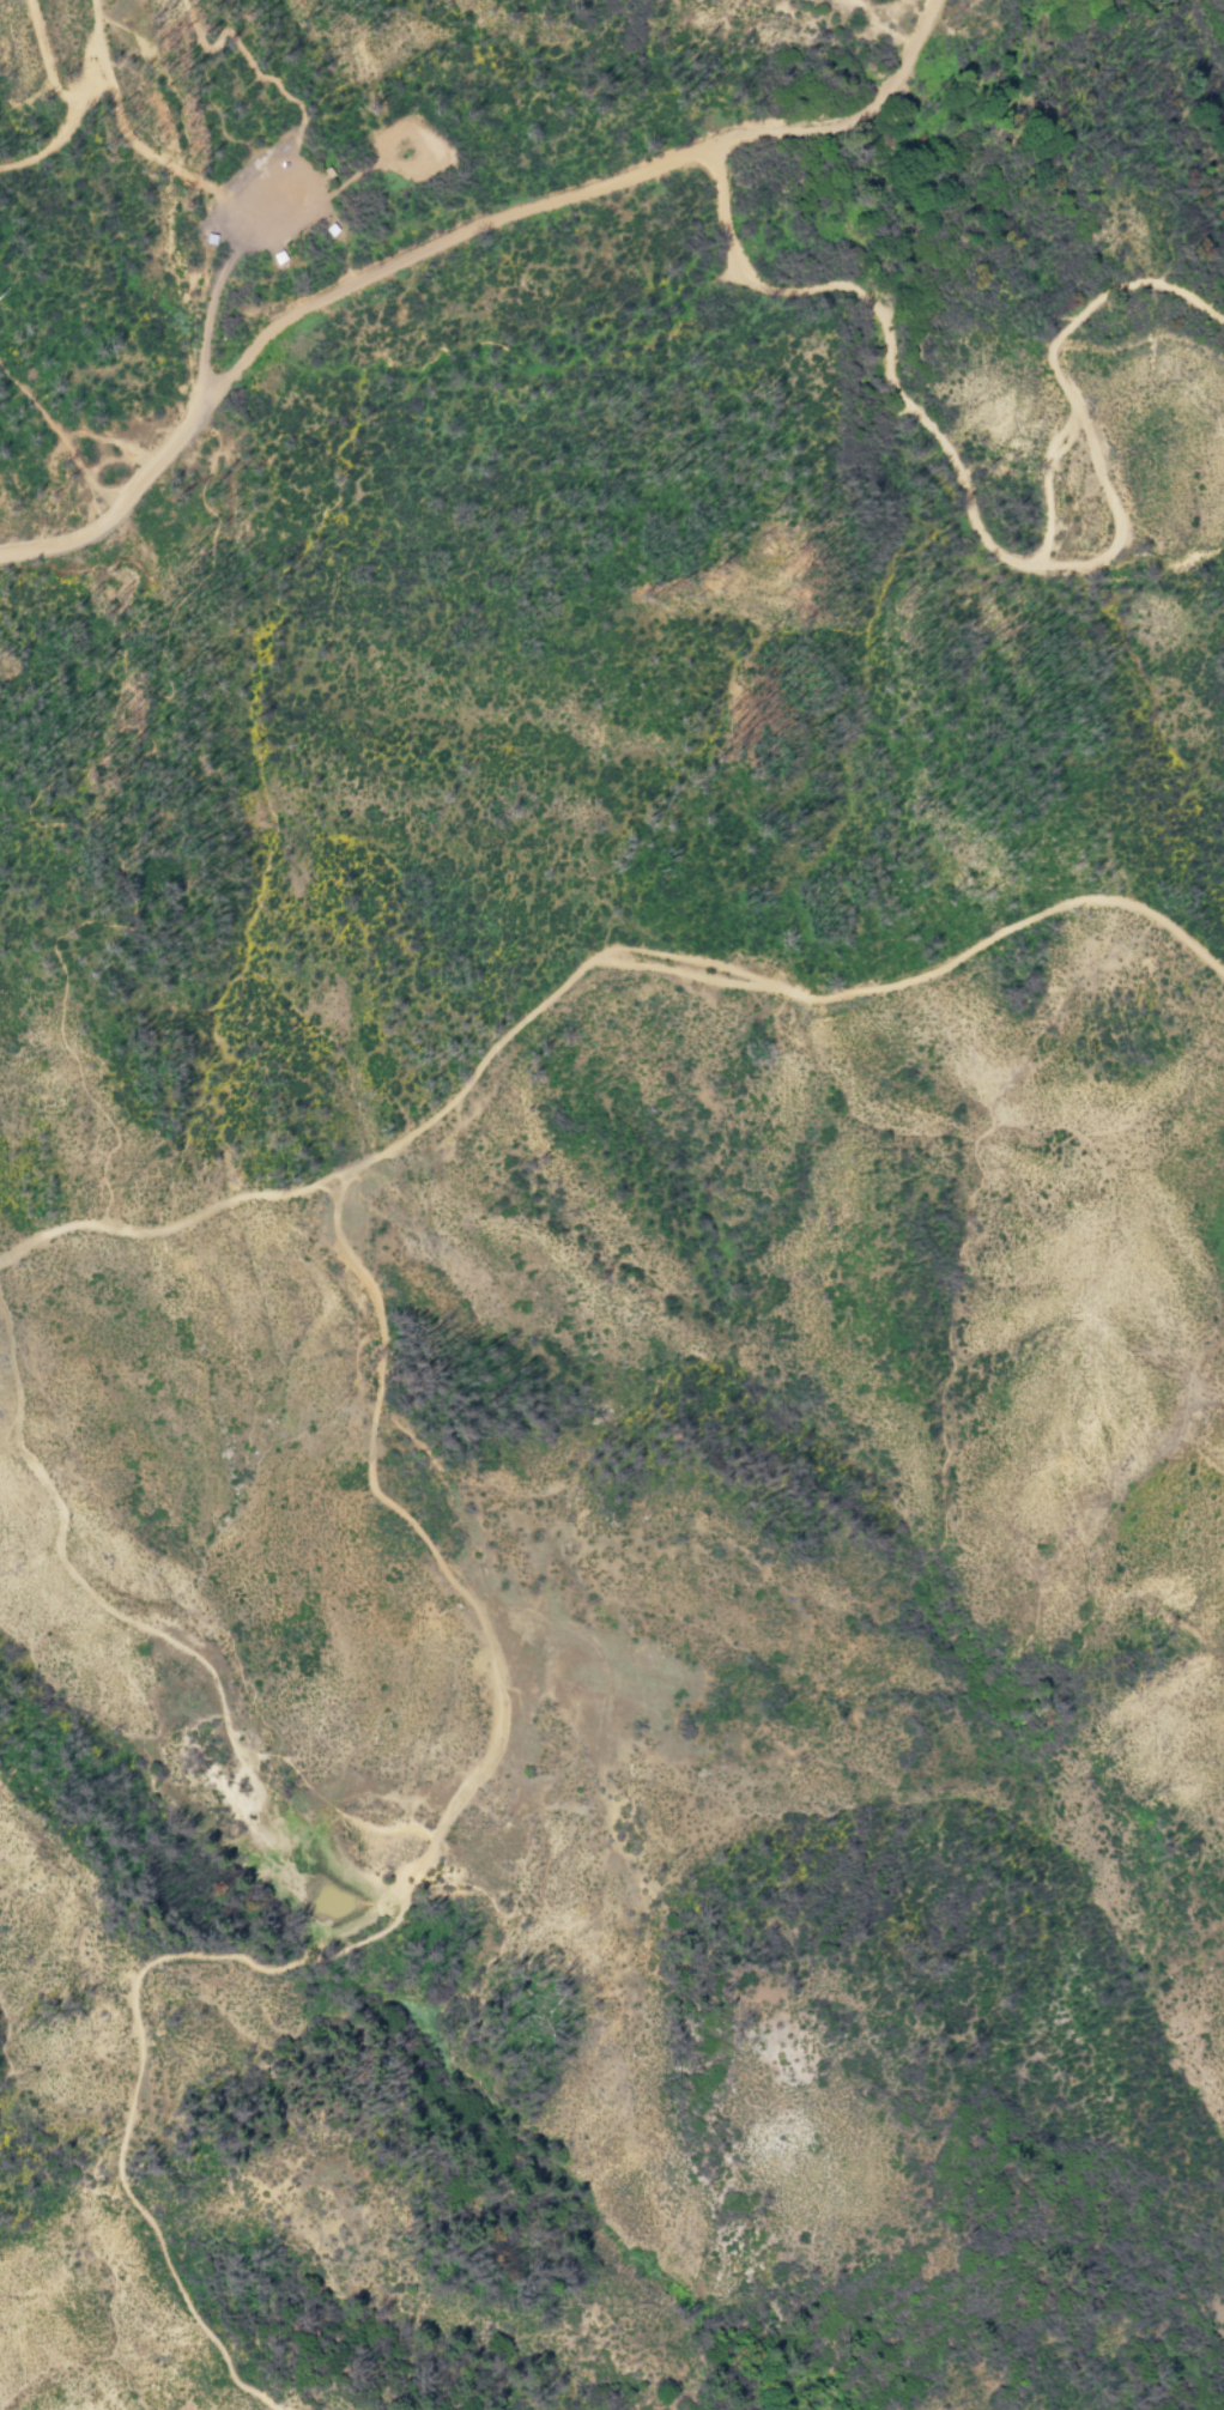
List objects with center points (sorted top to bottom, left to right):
road: (240, 54)
road: (53, 72)
road: (853, 119)
road: (117, 121)
road: (53, 150)
road: (356, 177)
parking lot: (274, 212)
road: (436, 247)
road: (225, 268)
road: (62, 436)
road: (159, 459)
road: (65, 541)
road: (331, 1204)
road: (147, 1636)
road: (402, 1878)

